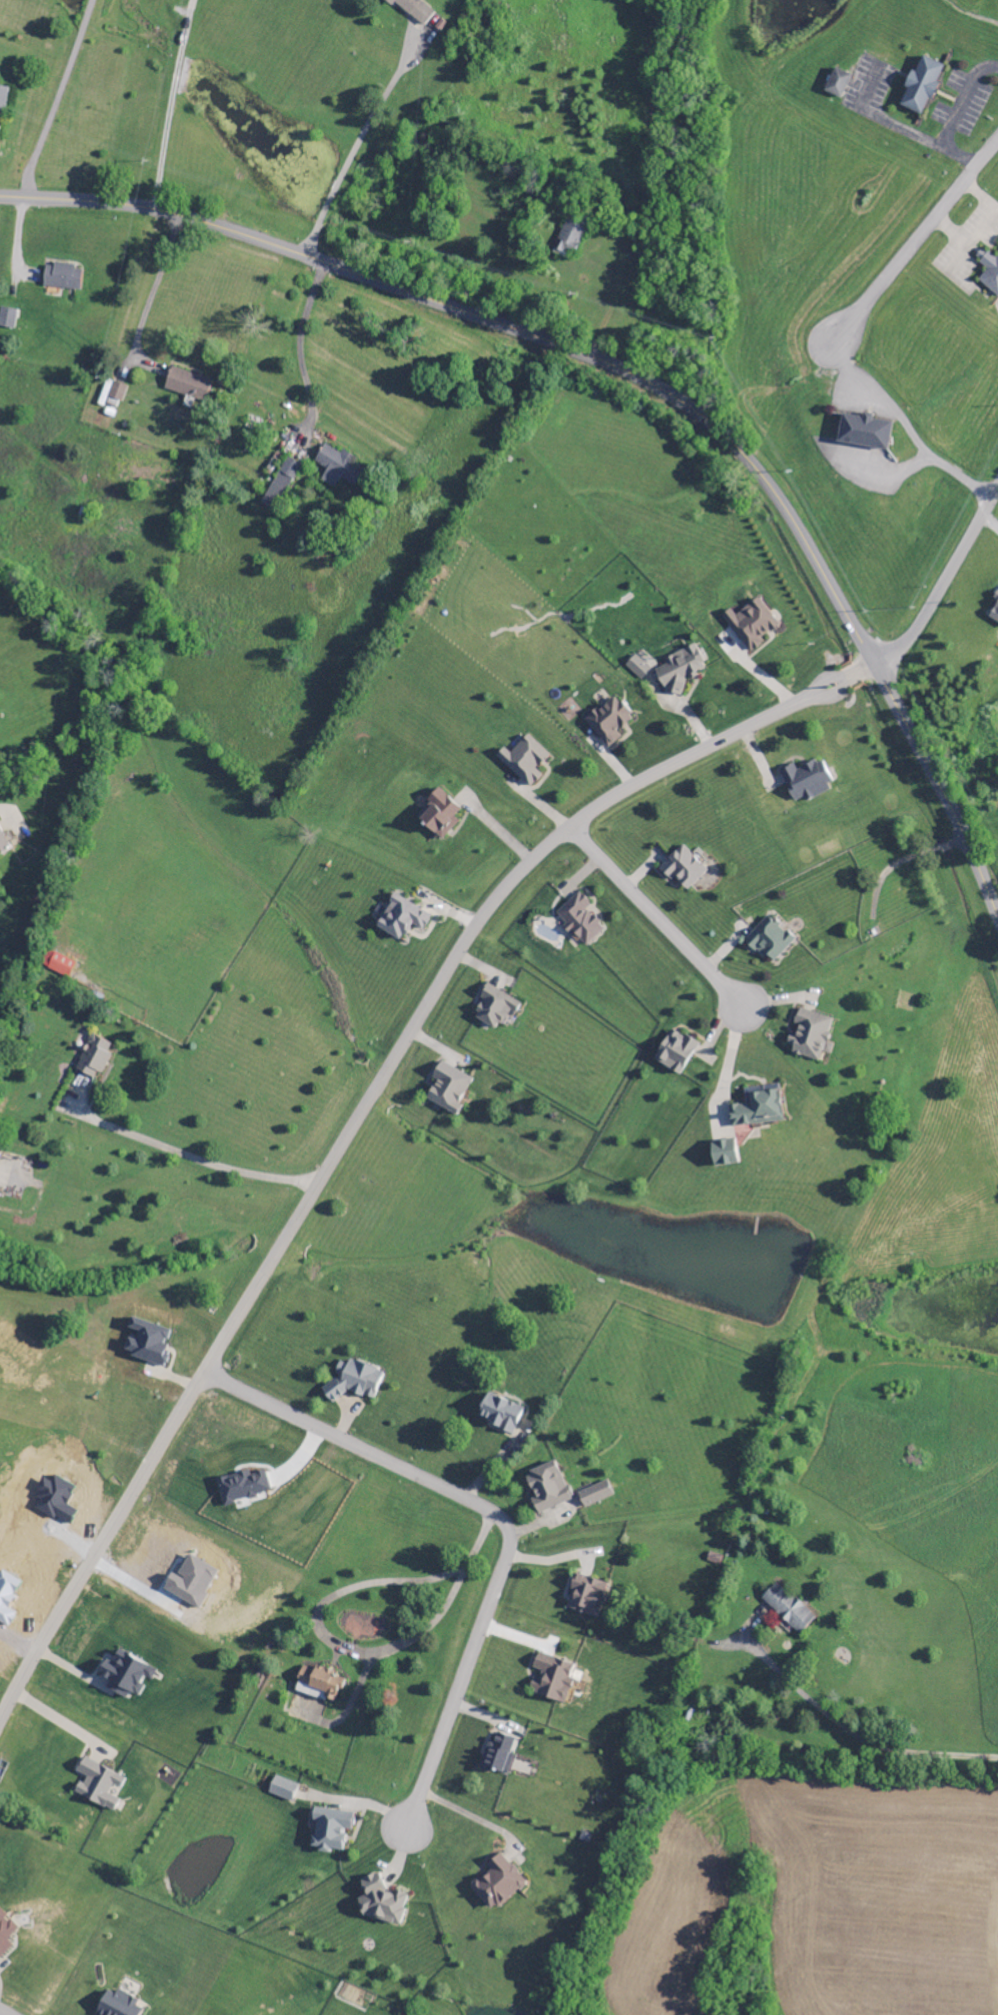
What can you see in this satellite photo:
building: (412, 11)
building: (836, 85)
building: (920, 87)
road: (56, 98)
building: (3, 100)
road: (168, 104)
road: (955, 115)
road: (881, 120)
road: (354, 144)
road: (978, 193)
road: (963, 231)
building: (567, 240)
building: (988, 273)
building: (61, 279)
road: (153, 286)
building: (6, 320)
road: (839, 323)
road: (298, 337)
road: (637, 376)
building: (185, 386)
building: (115, 394)
building: (862, 434)
building: (334, 468)
building: (278, 485)
road: (943, 582)
building: (994, 609)
building: (751, 625)
building: (637, 667)
building: (679, 670)
building: (608, 721)
building: (523, 761)
building: (806, 782)
building: (438, 815)
building: (3, 846)
building: (682, 869)
road: (654, 918)
building: (400, 919)
building: (577, 920)
building: (768, 940)
building: (56, 964)
building: (493, 1008)
building: (809, 1036)
building: (673, 1052)
building: (91, 1058)
road: (725, 1066)
building: (446, 1089)
building: (756, 1108)
road: (362, 1112)
building: (722, 1154)
road: (200, 1161)
building: (145, 1344)
building: (353, 1382)
building: (498, 1414)
building: (241, 1488)
building: (546, 1489)
building: (594, 1495)
road: (503, 1521)
building: (585, 1596)
building: (787, 1609)
building: (123, 1677)
building: (550, 1680)
building: (316, 1685)
road: (59, 1725)
road: (853, 1733)
building: (498, 1756)
building: (96, 1786)
building: (280, 1790)
road: (470, 1819)
building: (328, 1831)
building: (495, 1885)
building: (379, 1903)
building: (5, 1935)
building: (117, 2004)
road: (9, 2009)

